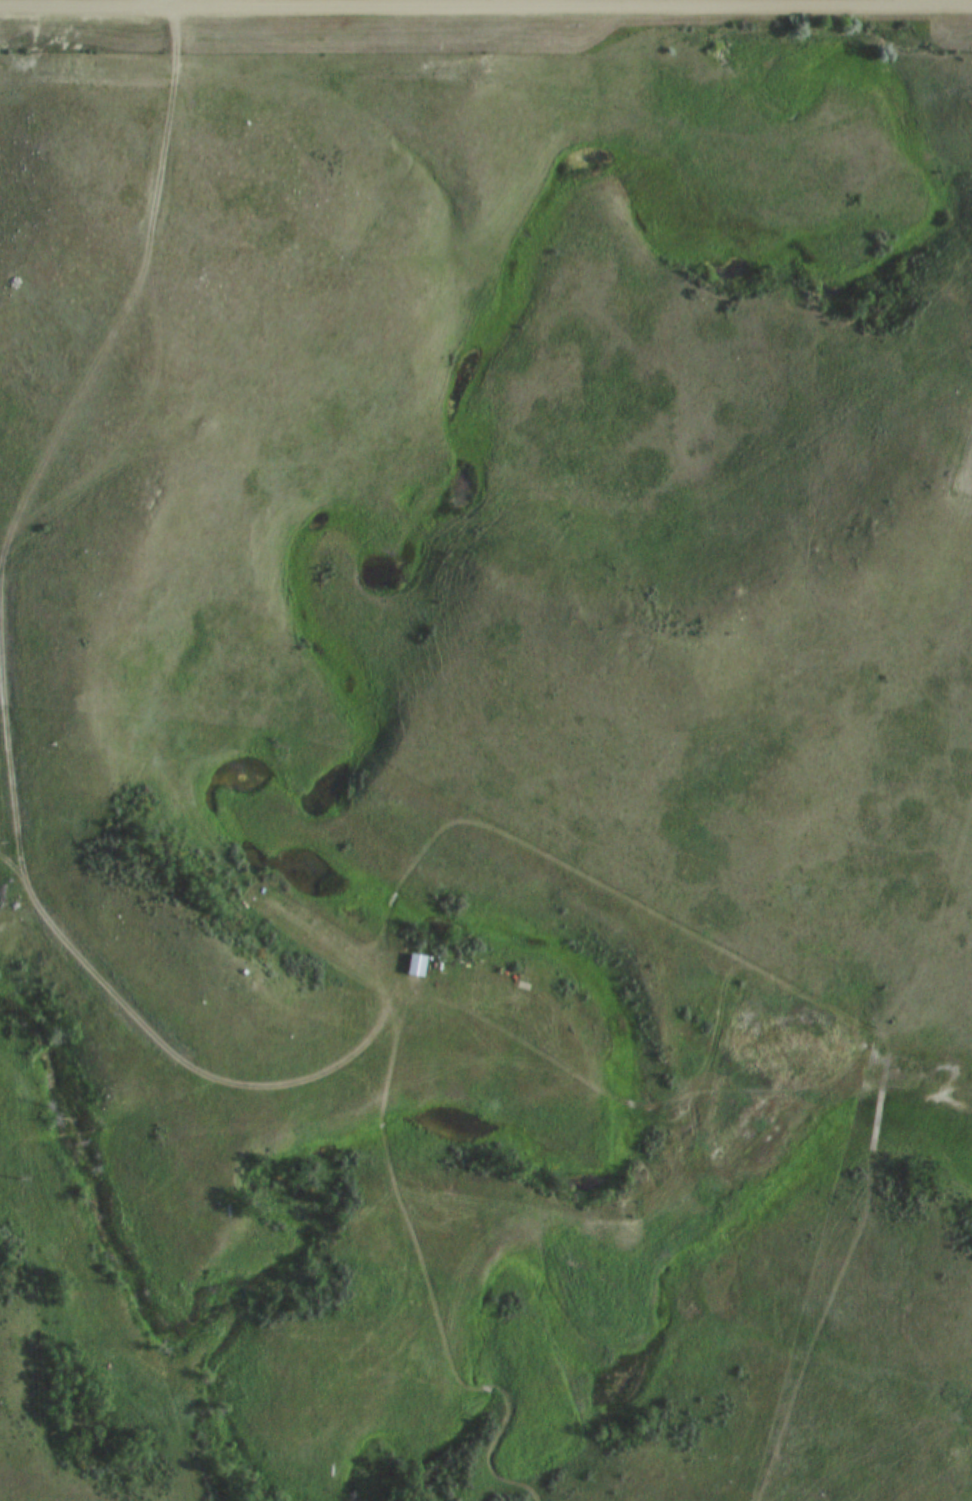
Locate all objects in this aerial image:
road: (486, 5)

